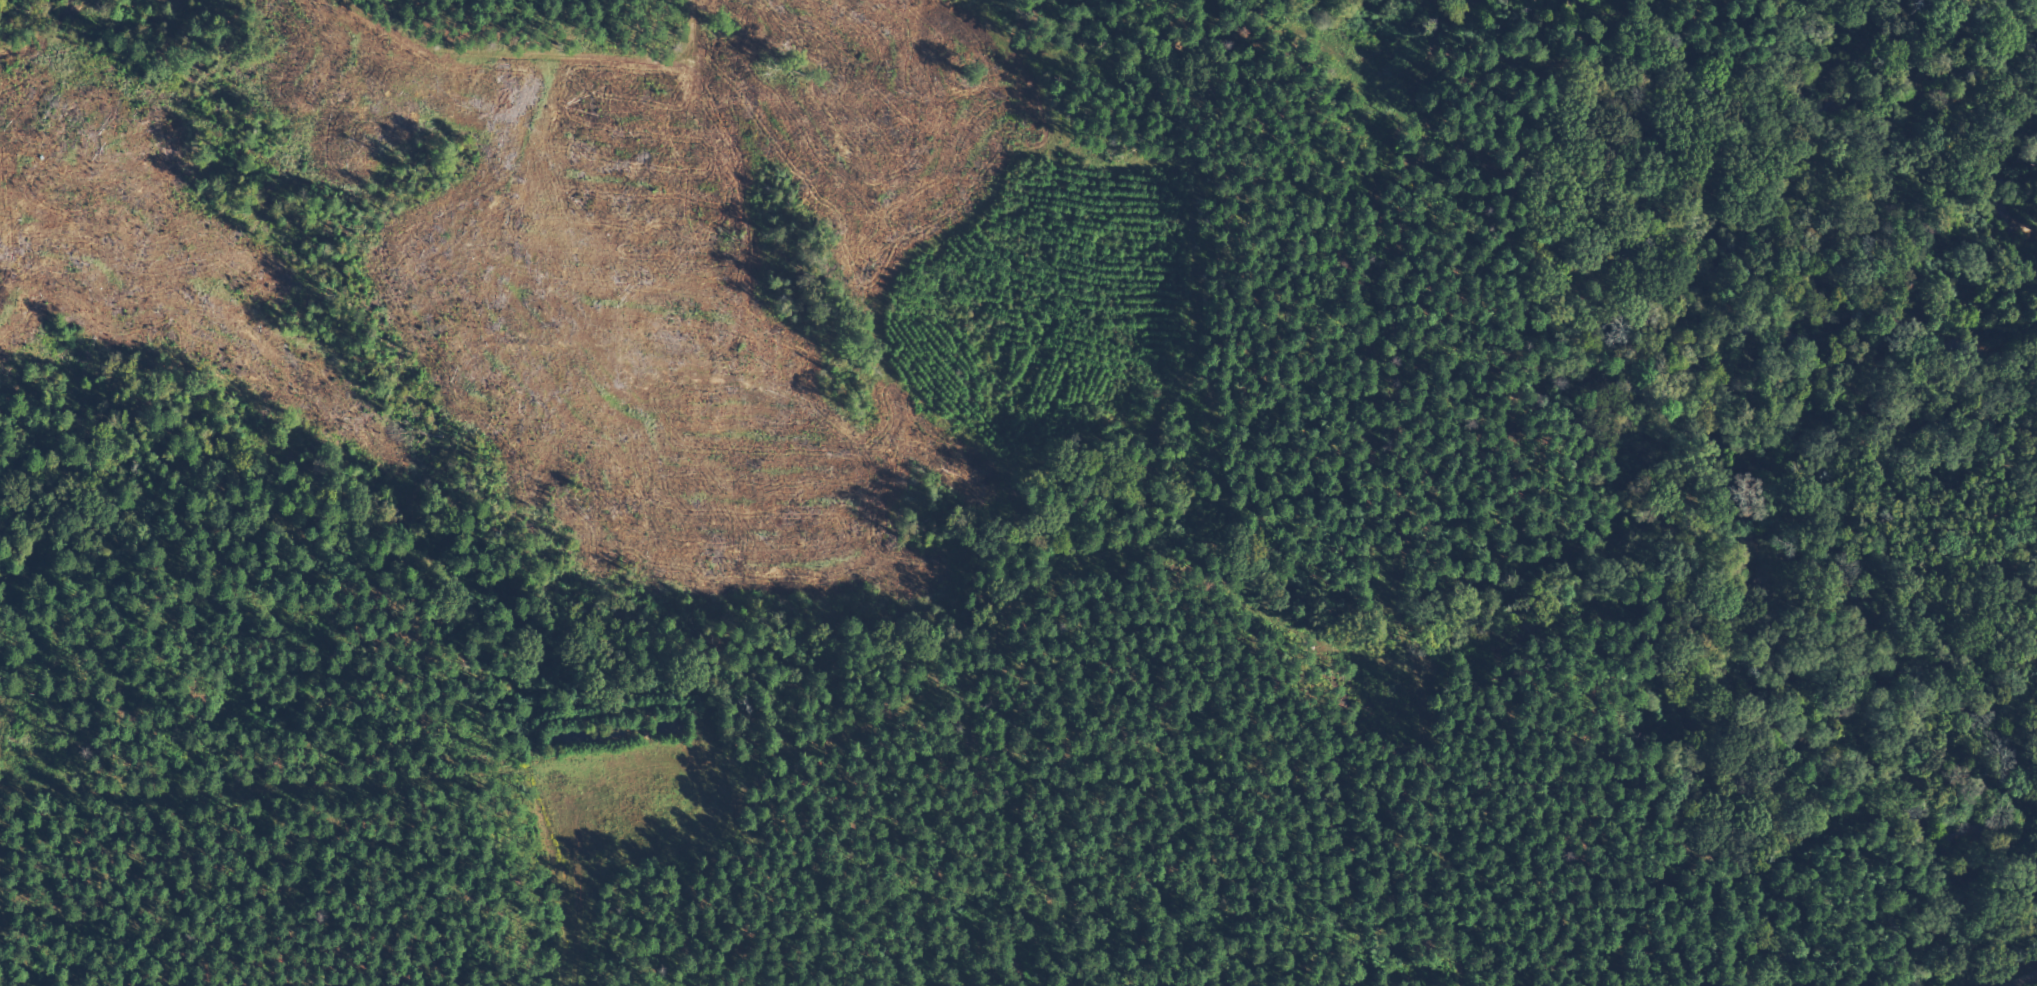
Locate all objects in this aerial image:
road: (2029, 982)

